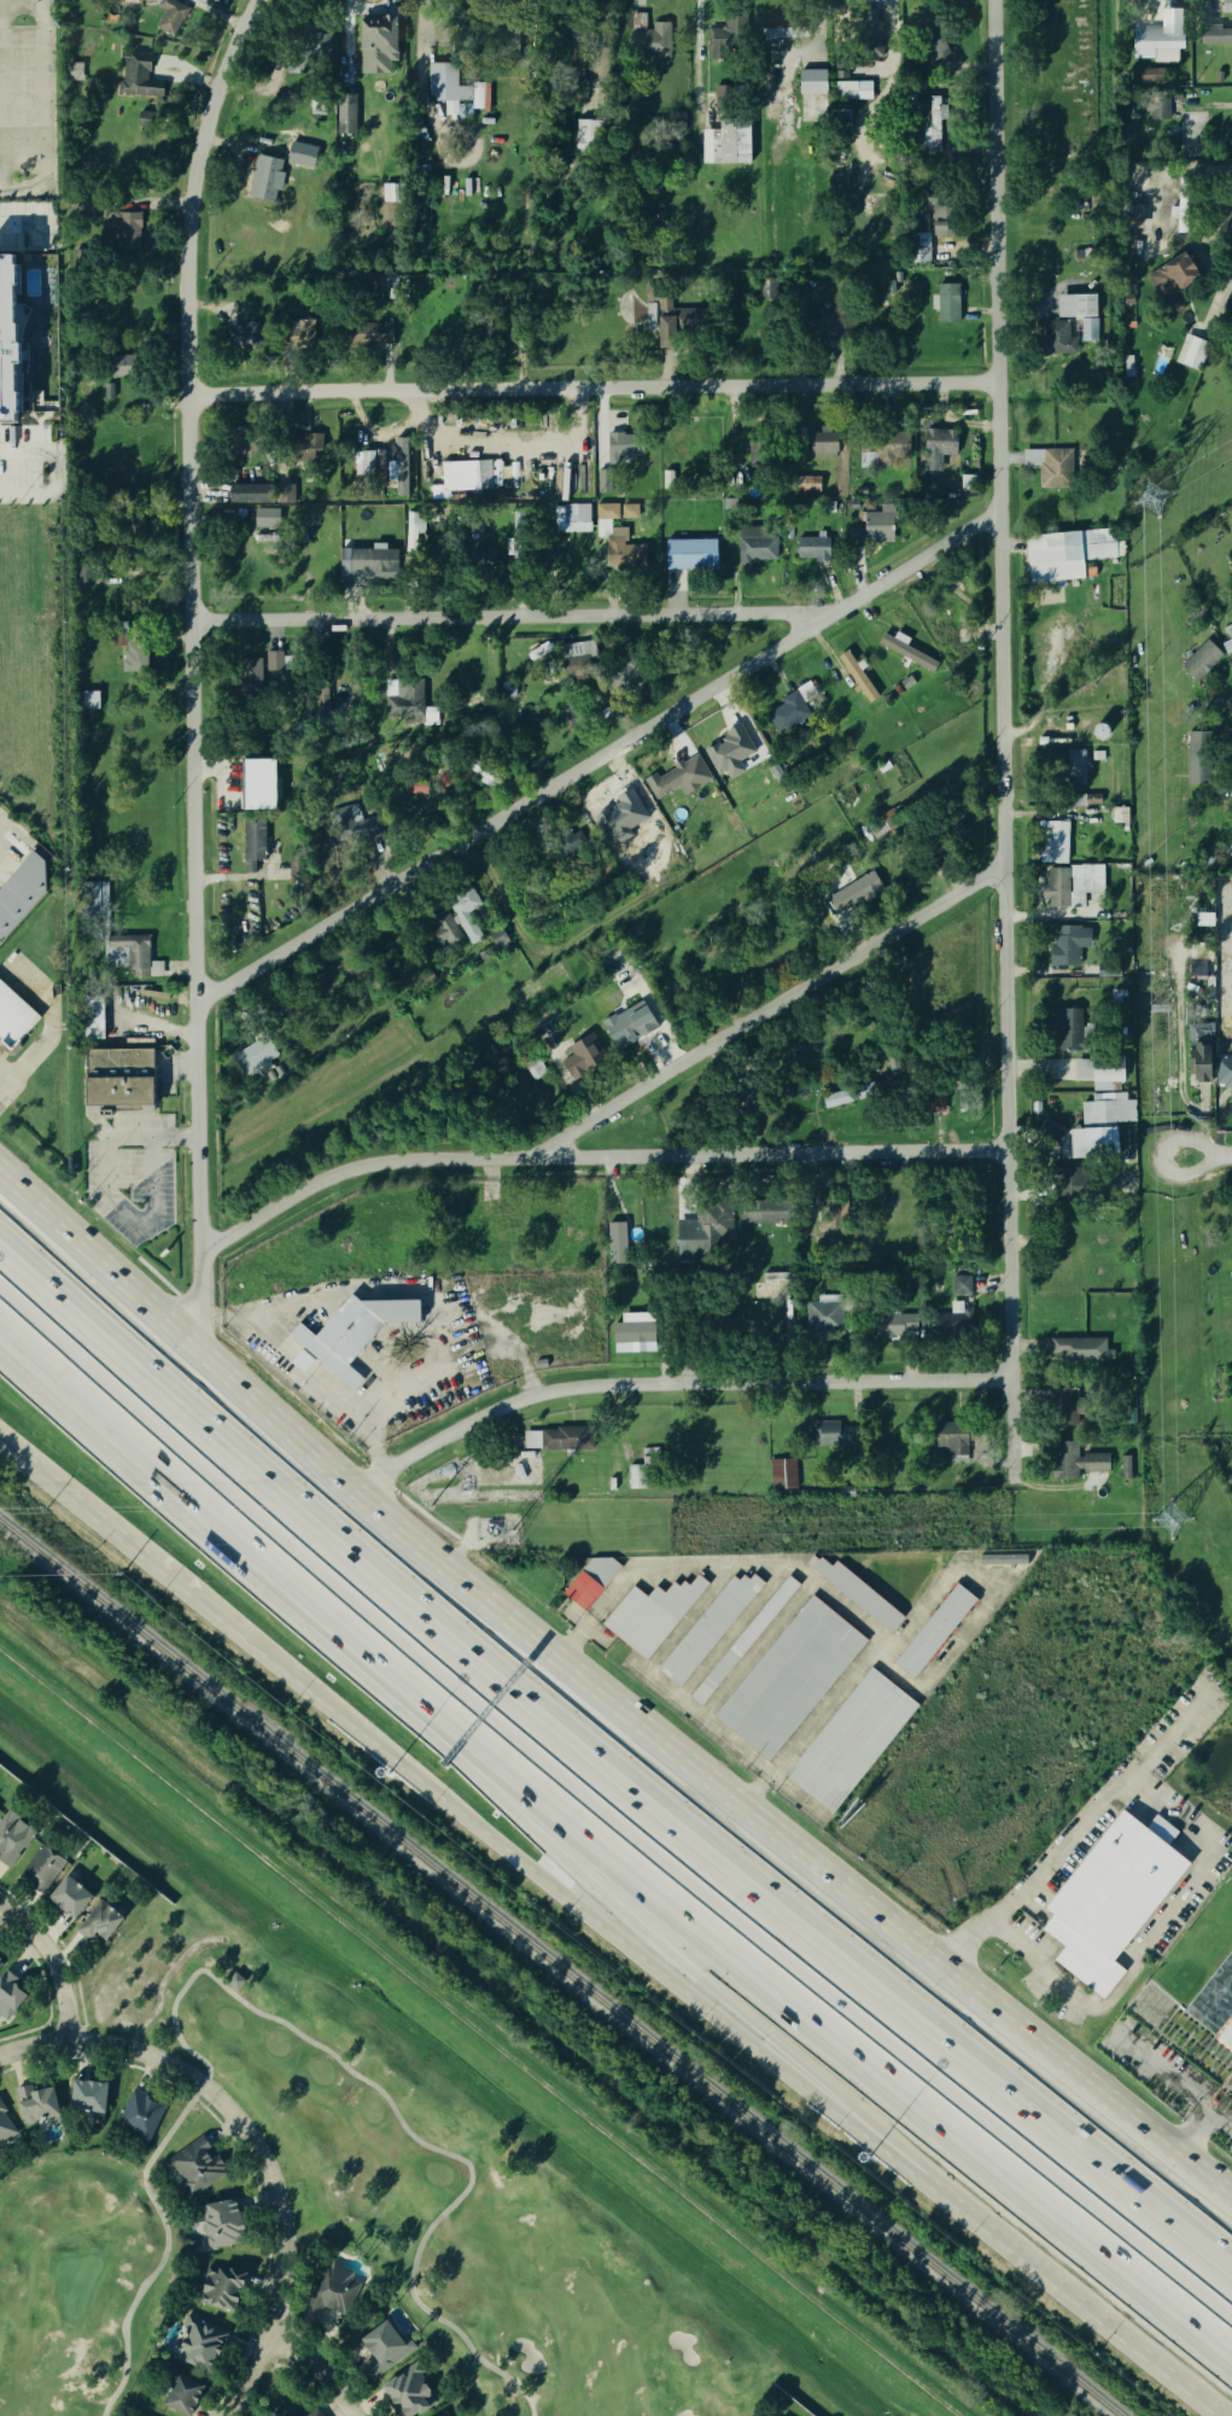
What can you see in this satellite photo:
building: (132, 6)
building: (1227, 6)
building: (169, 17)
building: (1213, 34)
building: (724, 35)
building: (775, 35)
building: (646, 39)
building: (1157, 40)
building: (870, 41)
building: (375, 45)
road: (700, 52)
building: (80, 72)
building: (136, 76)
building: (813, 82)
building: (452, 88)
building: (853, 91)
building: (767, 94)
building: (1156, 107)
building: (345, 112)
road: (40, 115)
building: (932, 127)
building: (582, 135)
building: (725, 144)
building: (303, 154)
building: (263, 179)
building: (1132, 217)
building: (939, 222)
building: (128, 227)
building: (86, 259)
building: (1169, 276)
building: (946, 304)
building: (1078, 305)
building: (299, 335)
building: (368, 335)
building: (10, 338)
building: (243, 338)
building: (1058, 339)
building: (1193, 352)
building: (128, 366)
building: (1128, 366)
road: (595, 385)
building: (111, 391)
building: (821, 444)
building: (889, 447)
building: (614, 449)
building: (935, 449)
building: (361, 465)
building: (392, 466)
building: (1051, 468)
building: (469, 477)
building: (668, 479)
building: (605, 482)
building: (806, 484)
power tower: (1151, 503)
building: (631, 510)
building: (607, 512)
building: (264, 519)
building: (576, 519)
building: (876, 526)
building: (411, 531)
building: (755, 547)
building: (811, 549)
building: (691, 554)
building: (1063, 555)
building: (366, 566)
road: (516, 615)
building: (1227, 642)
building: (909, 653)
building: (140, 658)
building: (573, 659)
building: (271, 661)
building: (1198, 663)
road: (198, 664)
building: (853, 677)
building: (909, 682)
building: (898, 689)
building: (90, 700)
building: (319, 700)
building: (403, 702)
building: (792, 708)
road: (1003, 739)
building: (728, 754)
road: (603, 755)
building: (1093, 757)
building: (1196, 759)
building: (1075, 769)
building: (484, 770)
building: (677, 780)
building: (259, 783)
building: (416, 786)
building: (1093, 799)
building: (1120, 815)
building: (259, 844)
building: (1051, 844)
building: (302, 866)
building: (1070, 886)
building: (21, 893)
building: (852, 894)
building: (456, 922)
building: (1065, 946)
building: (138, 956)
building: (1197, 963)
building: (1107, 970)
road: (769, 1010)
building: (14, 1016)
building: (94, 1017)
building: (626, 1026)
road: (163, 1027)
building: (1065, 1032)
building: (1196, 1054)
building: (256, 1055)
building: (579, 1057)
building: (1222, 1075)
building: (886, 1078)
building: (130, 1079)
road: (12, 1081)
building: (851, 1095)
building: (1094, 1143)
road: (1208, 1154)
road: (597, 1157)
building: (1072, 1187)
road: (106, 1190)
building: (757, 1213)
building: (705, 1229)
building: (615, 1243)
building: (959, 1285)
building: (821, 1318)
building: (631, 1334)
building: (349, 1336)
building: (1081, 1349)
building: (303, 1361)
road: (60, 1383)
road: (682, 1384)
building: (827, 1435)
building: (950, 1437)
building: (565, 1440)
building: (529, 1441)
building: (1073, 1463)
building: (1125, 1467)
building: (782, 1473)
power tower: (1166, 1519)
road: (111, 1521)
power tower: (509, 1535)
building: (1004, 1559)
building: (588, 1582)
road: (817, 1588)
building: (854, 1593)
building: (652, 1615)
building: (708, 1629)
building: (935, 1630)
building: (745, 1640)
building: (790, 1677)
road: (603, 1692)
building: (851, 1740)
road: (1167, 1741)
road: (391, 1750)
road: (605, 1781)
road: (492, 1791)
road: (1144, 1795)
building: (12, 1839)
building: (37, 1871)
road: (671, 1897)
building: (68, 1898)
building: (1110, 1901)
building: (97, 1922)
building: (0, 1960)
road: (54, 1960)
railway: (560, 1966)
road: (1044, 1968)
building: (10, 1996)
building: (1214, 2004)
railway: (512, 2007)
road: (716, 2012)
road: (262, 2013)
building: (82, 2097)
building: (33, 2103)
building: (138, 2118)
building: (5, 2126)
road: (257, 2136)
building: (193, 2169)
building: (215, 2224)
park: (354, 2229)
road: (1046, 2276)
building: (217, 2287)
building: (332, 2292)
building: (195, 2345)
building: (379, 2348)
road: (316, 2375)
building: (403, 2393)
building: (177, 2395)
building: (313, 2414)
building: (135, 2415)
building: (265, 2415)
building: (303, 2415)

